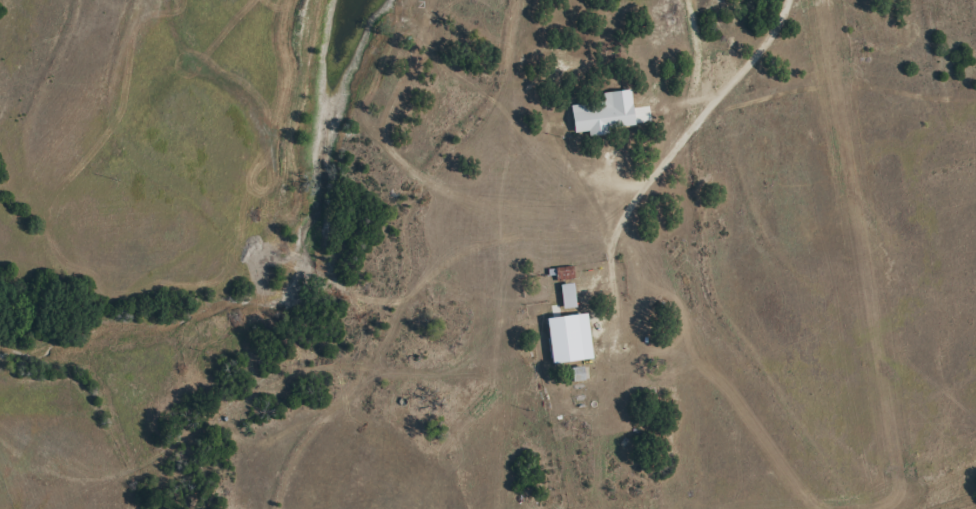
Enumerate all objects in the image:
building: (595, 119)
building: (562, 273)

